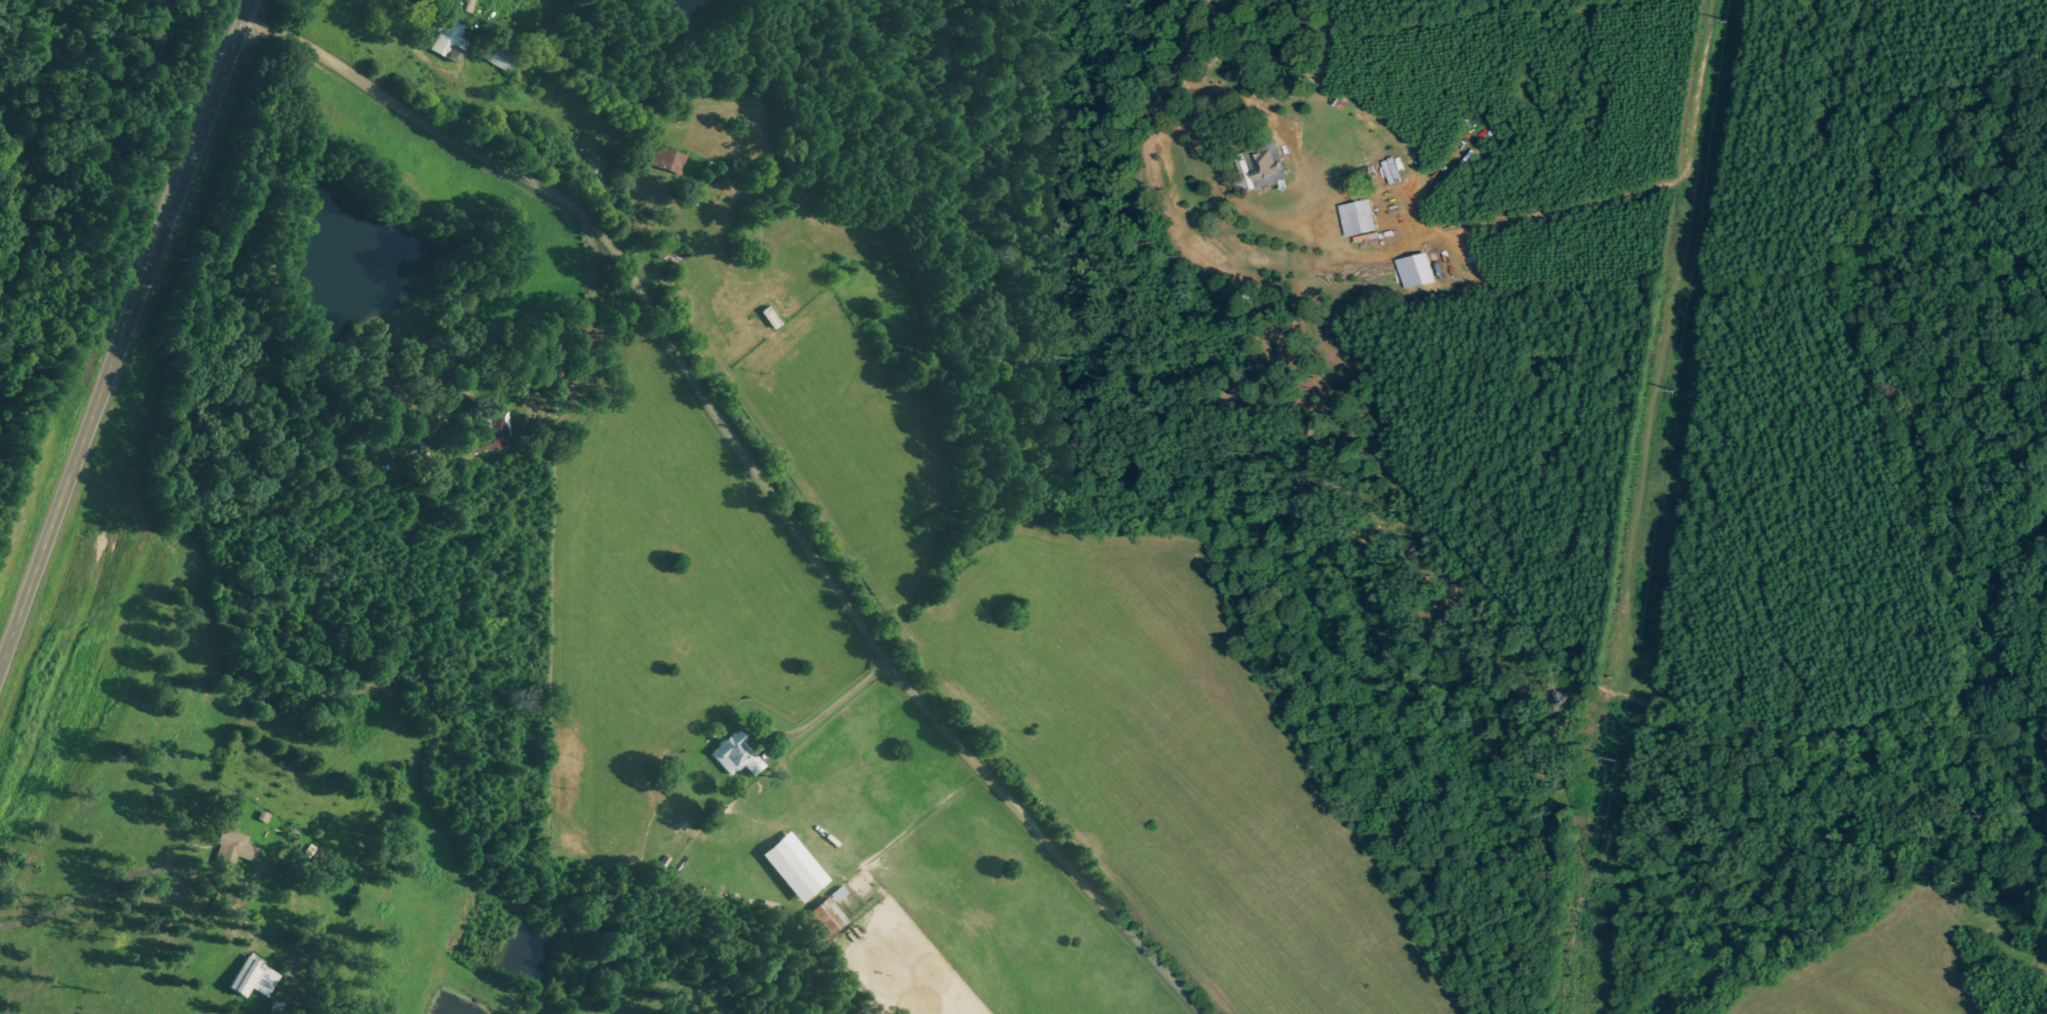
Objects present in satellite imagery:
road: (877, 0)
building: (451, 41)
building: (502, 55)
road: (1179, 114)
building: (669, 161)
building: (1262, 170)
building: (1360, 218)
road: (483, 228)
building: (1416, 271)
road: (127, 346)
building: (495, 437)
road: (661, 440)
road: (734, 454)
building: (739, 757)
building: (236, 847)
building: (792, 872)
building: (840, 894)
road: (179, 898)
building: (827, 918)
building: (255, 979)

